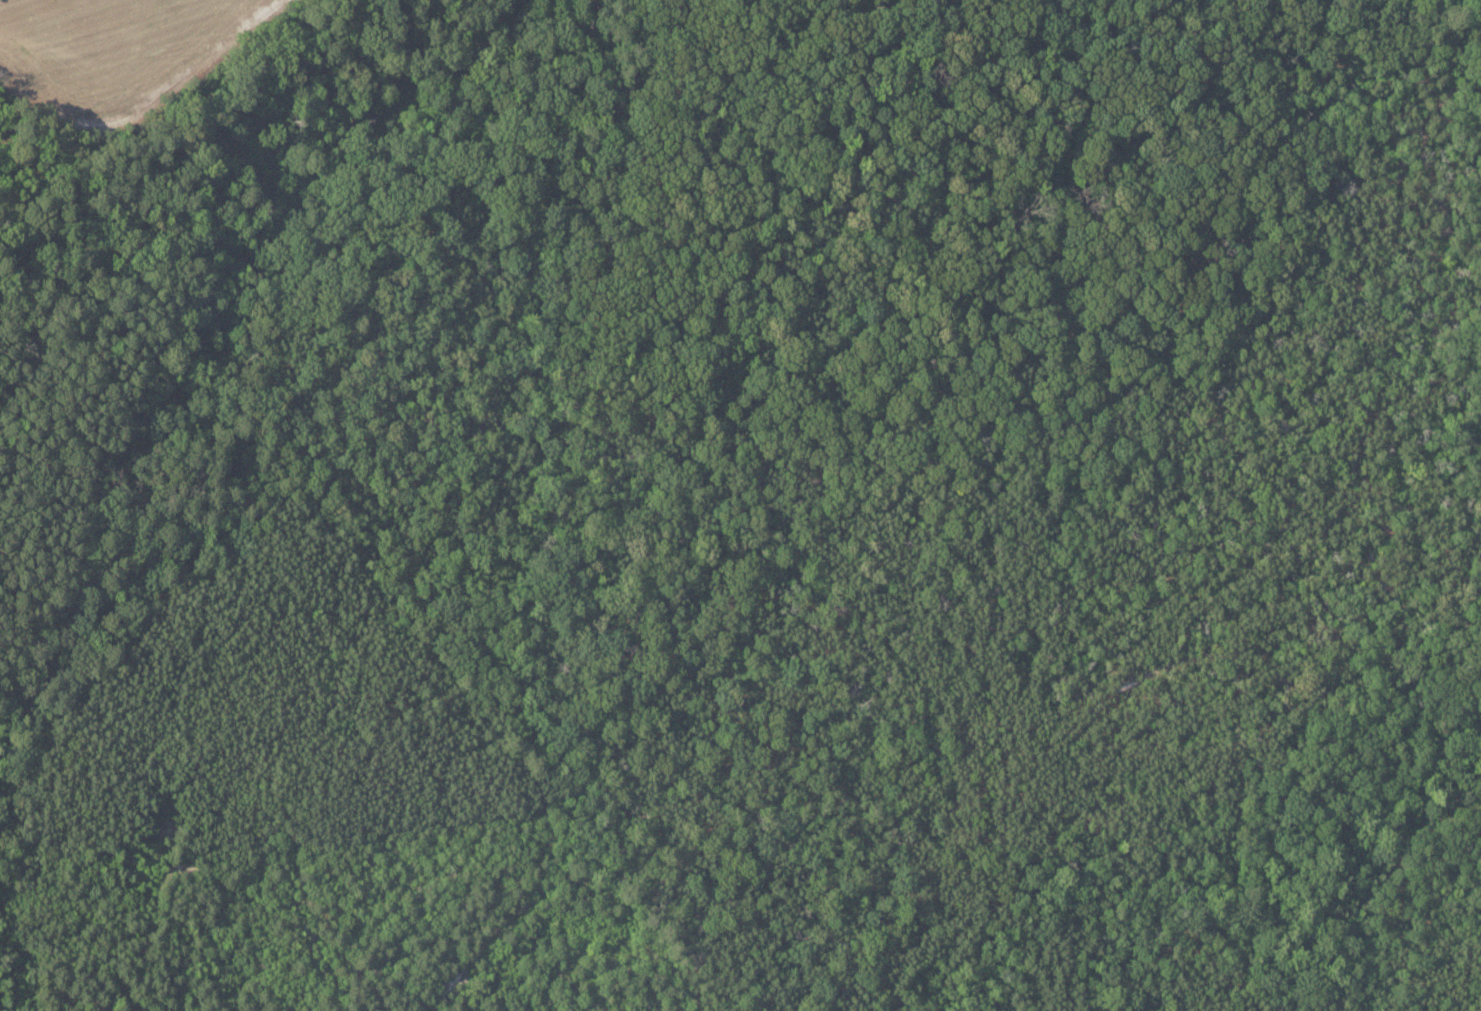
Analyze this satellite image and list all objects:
road: (148, 936)

